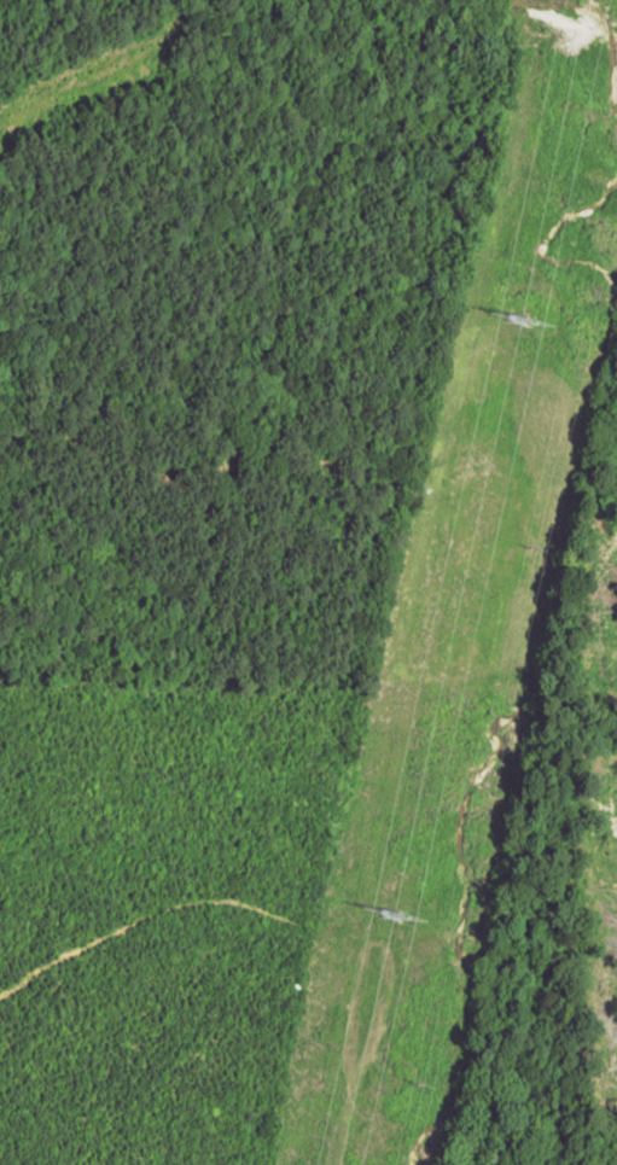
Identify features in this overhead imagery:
power tower: (510, 318)
power tower: (384, 911)

